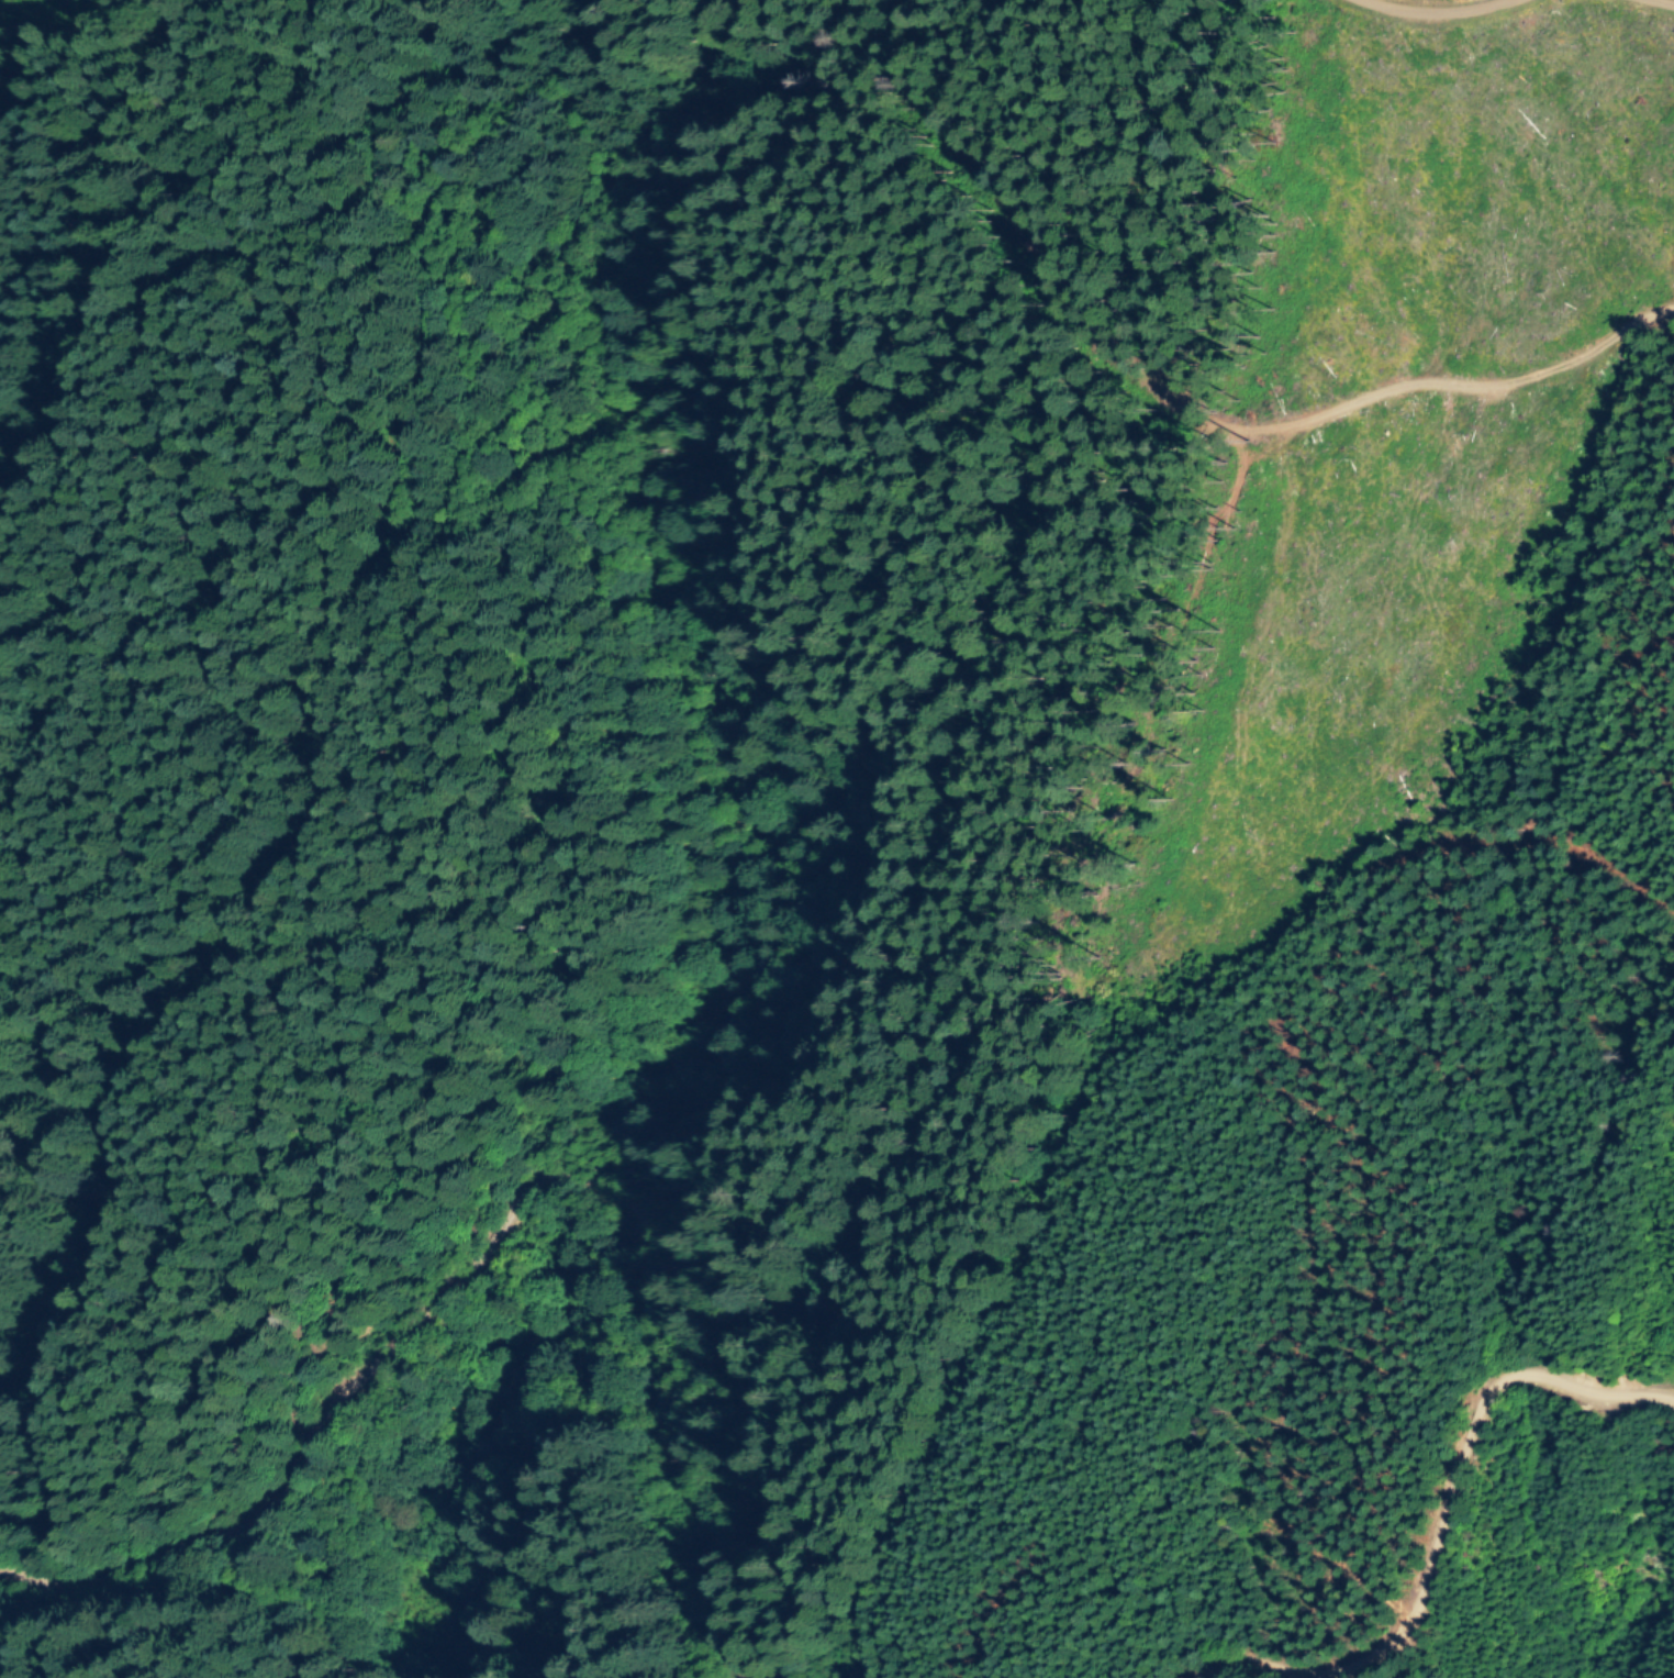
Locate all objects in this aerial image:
road: (1411, 20)
crop: (992, 514)
road: (1597, 876)
road: (490, 1215)
road: (1431, 1520)

